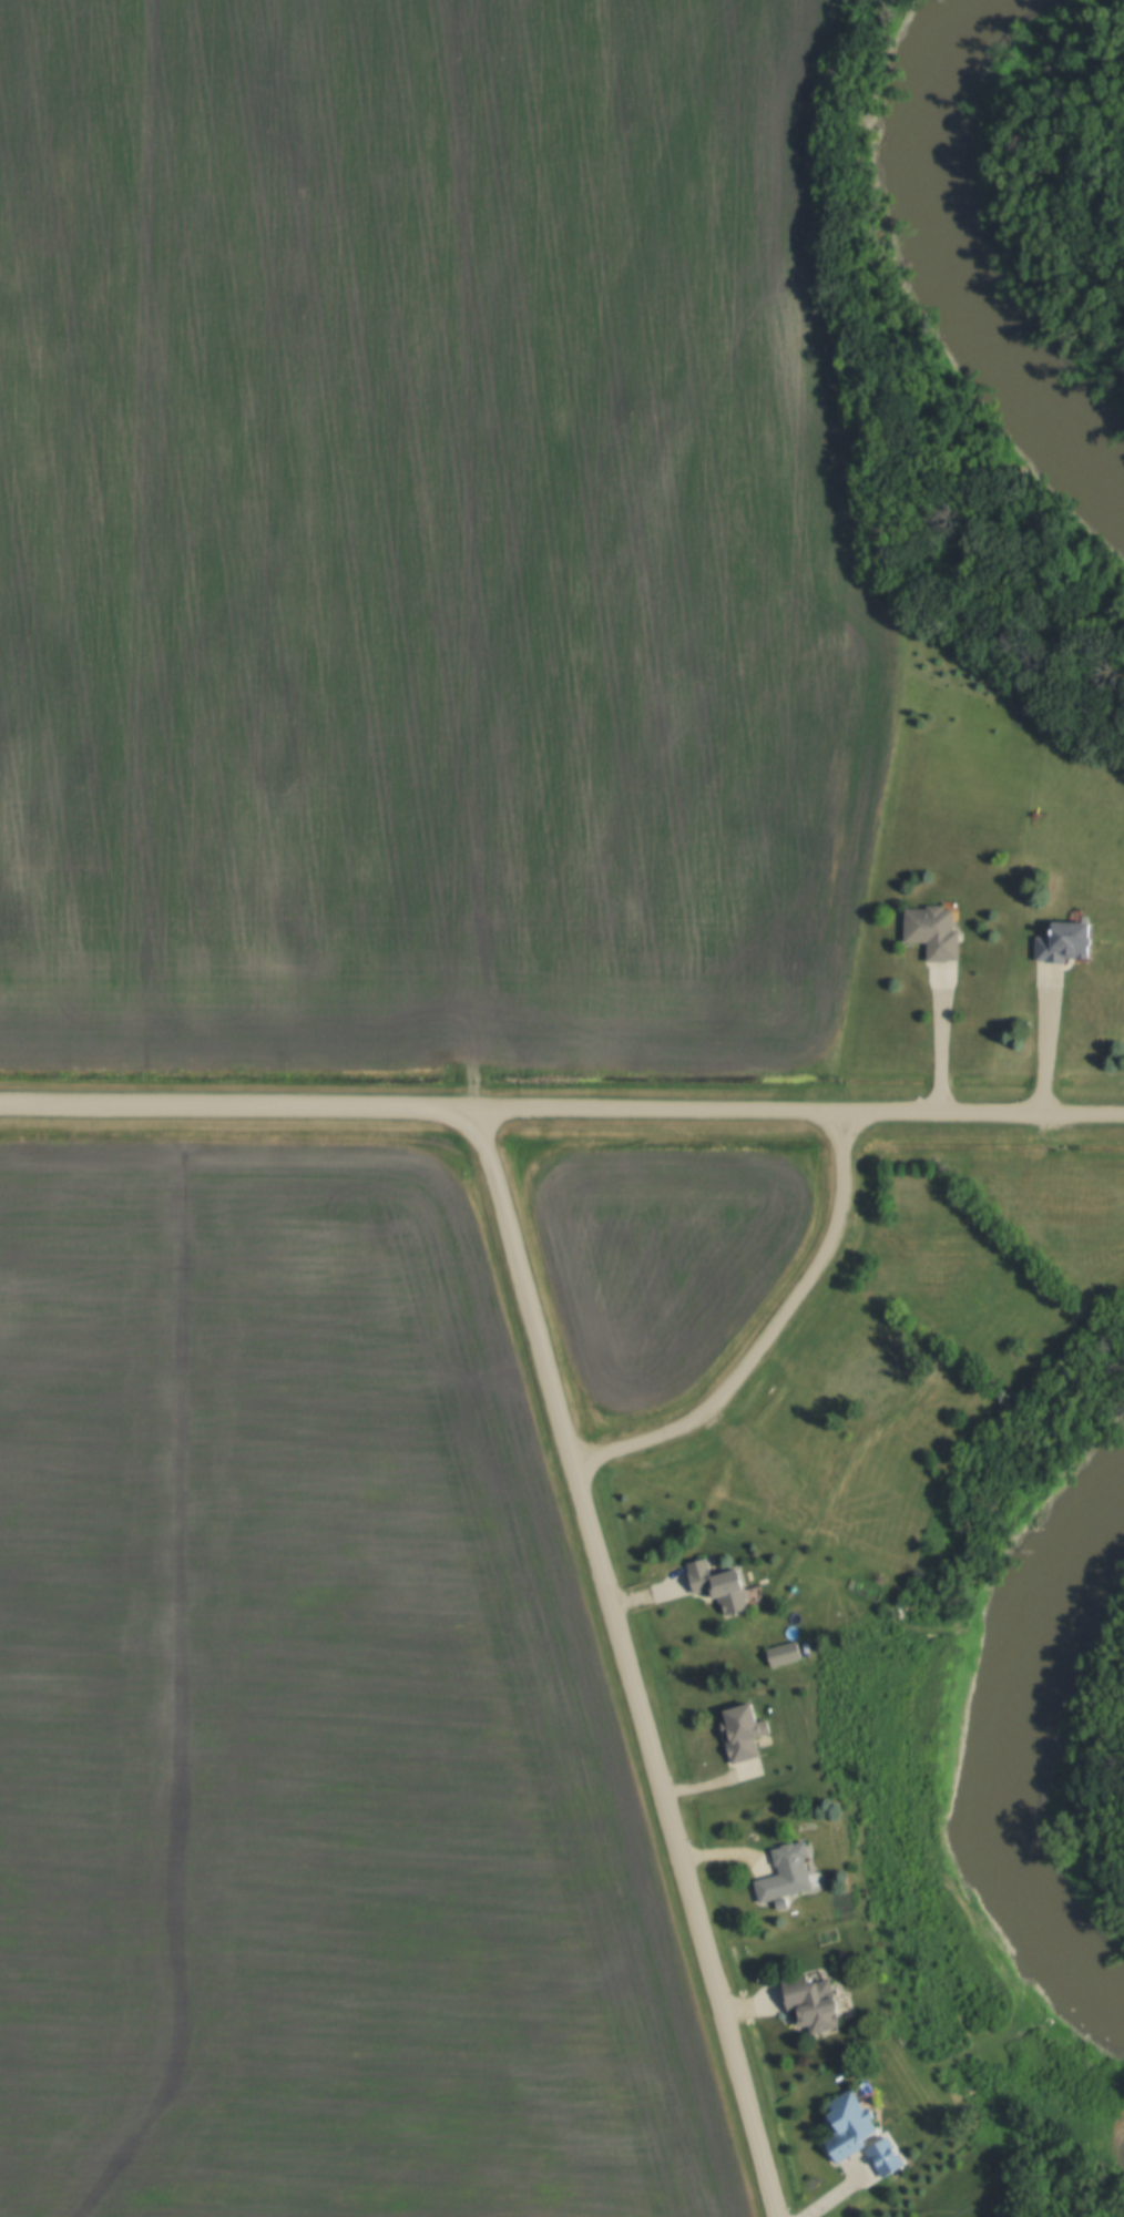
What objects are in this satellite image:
river: (948, 99)
river: (1012, 366)
building: (932, 931)
building: (1063, 941)
road: (941, 1039)
road: (1046, 1041)
road: (562, 1105)
road: (770, 1335)
building: (718, 1584)
building: (783, 1653)
road: (624, 1661)
building: (742, 1731)
river: (1012, 1748)
building: (785, 1872)
building: (810, 2002)
building: (847, 2125)
building: (883, 2156)
road: (842, 2190)

